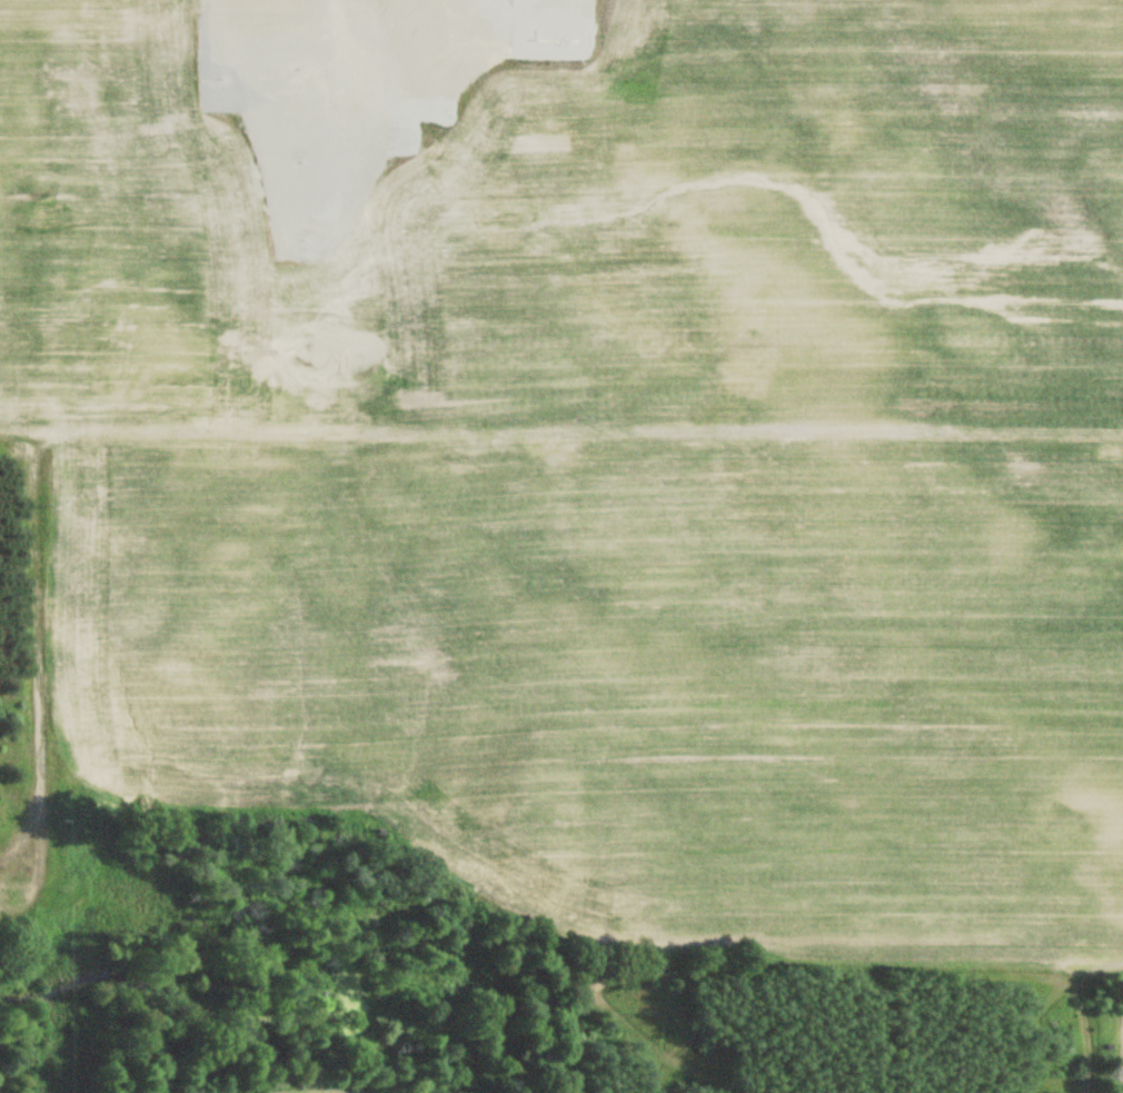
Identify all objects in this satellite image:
road: (561, 431)
road: (39, 630)
building: (7, 888)

